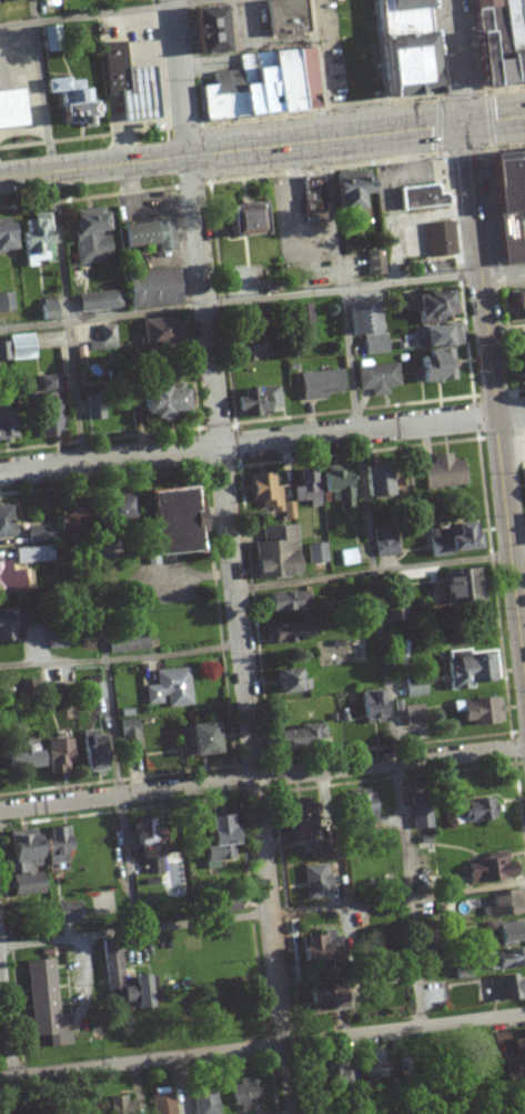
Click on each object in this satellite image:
road: (99, 12)
building: (204, 30)
building: (497, 41)
building: (398, 48)
road: (455, 61)
road: (182, 77)
building: (127, 84)
building: (260, 86)
building: (71, 102)
building: (12, 109)
road: (357, 136)
road: (95, 167)
building: (334, 197)
building: (420, 197)
building: (506, 200)
building: (242, 220)
building: (89, 235)
building: (147, 235)
building: (6, 237)
building: (33, 239)
building: (438, 239)
building: (373, 262)
building: (150, 288)
road: (262, 298)
building: (98, 301)
building: (6, 302)
building: (430, 304)
building: (517, 305)
building: (47, 309)
building: (303, 313)
building: (365, 329)
building: (160, 332)
building: (436, 335)
building: (114, 341)
building: (17, 348)
building: (248, 348)
building: (84, 354)
building: (521, 361)
building: (433, 365)
building: (376, 379)
road: (494, 381)
building: (317, 384)
building: (259, 401)
building: (158, 402)
building: (48, 407)
building: (93, 408)
building: (6, 422)
road: (372, 424)
road: (110, 456)
road: (84, 464)
building: (443, 473)
building: (374, 481)
building: (336, 484)
building: (305, 488)
building: (269, 495)
building: (114, 506)
road: (366, 512)
building: (4, 522)
building: (163, 523)
building: (68, 524)
building: (37, 534)
building: (451, 541)
building: (384, 542)
building: (274, 552)
building: (316, 553)
building: (33, 554)
building: (349, 558)
road: (381, 569)
building: (11, 580)
building: (458, 588)
building: (284, 601)
building: (396, 613)
building: (10, 628)
building: (289, 632)
road: (242, 634)
building: (54, 641)
building: (125, 643)
road: (122, 658)
building: (470, 671)
building: (289, 682)
building: (170, 689)
building: (414, 689)
building: (95, 692)
building: (371, 705)
building: (481, 712)
building: (412, 714)
building: (129, 734)
building: (294, 737)
building: (194, 741)
building: (89, 753)
building: (22, 754)
building: (54, 757)
road: (392, 762)
road: (129, 791)
building: (360, 812)
building: (473, 812)
building: (420, 816)
building: (294, 820)
building: (216, 841)
building: (55, 845)
building: (144, 846)
building: (20, 864)
building: (488, 870)
building: (315, 877)
building: (103, 903)
building: (229, 903)
building: (503, 904)
road: (262, 912)
building: (68, 913)
building: (506, 932)
building: (319, 952)
building: (504, 960)
building: (121, 984)
building: (507, 988)
building: (317, 1001)
building: (46, 1004)
road: (6, 1005)
road: (406, 1030)
road: (144, 1061)
building: (373, 1064)
building: (514, 1072)
building: (333, 1074)
building: (243, 1093)
building: (162, 1101)
building: (203, 1101)
building: (119, 1103)

